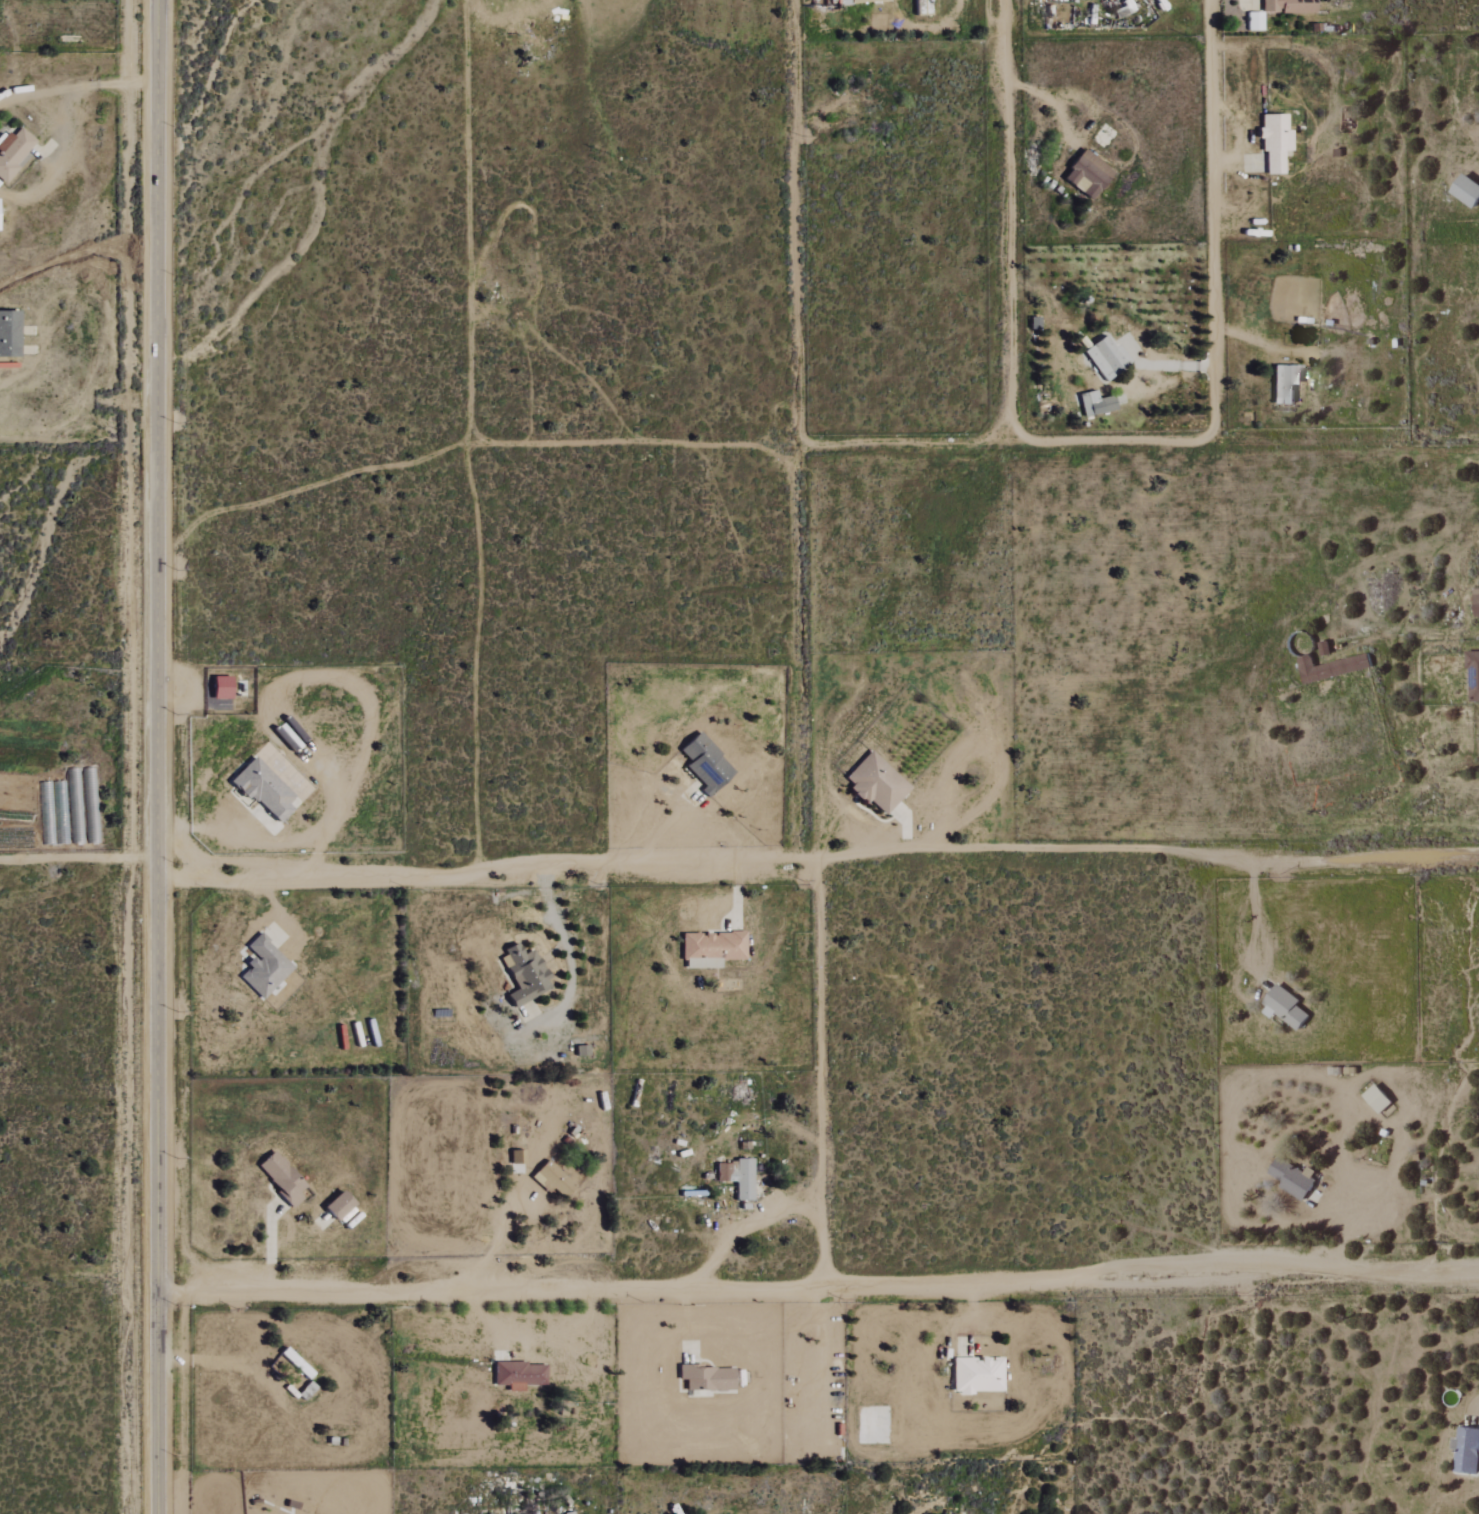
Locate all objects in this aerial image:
building: (1287, 6)
building: (1254, 21)
road: (90, 88)
road: (1084, 107)
road: (1238, 135)
building: (1274, 141)
building: (12, 152)
building: (1085, 174)
building: (1466, 190)
road: (1212, 217)
road: (472, 220)
road: (1003, 220)
road: (795, 225)
building: (8, 334)
building: (1105, 358)
building: (1284, 383)
building: (1094, 404)
road: (78, 447)
road: (842, 448)
building: (1476, 601)
road: (793, 652)
building: (1330, 668)
building: (219, 688)
road: (273, 736)
road: (155, 757)
building: (704, 764)
building: (875, 784)
building: (261, 789)
road: (665, 823)
road: (905, 827)
road: (817, 856)
road: (77, 858)
road: (736, 890)
road: (278, 912)
road: (1252, 919)
road: (561, 923)
building: (711, 949)
building: (263, 967)
building: (524, 975)
building: (1284, 1007)
road: (821, 1074)
building: (736, 1177)
building: (280, 1178)
building: (554, 1178)
building: (1291, 1179)
building: (336, 1205)
road: (1352, 1213)
road: (738, 1216)
road: (490, 1229)
road: (267, 1245)
road: (818, 1292)
building: (518, 1375)
building: (977, 1375)
building: (705, 1378)
building: (1466, 1450)

